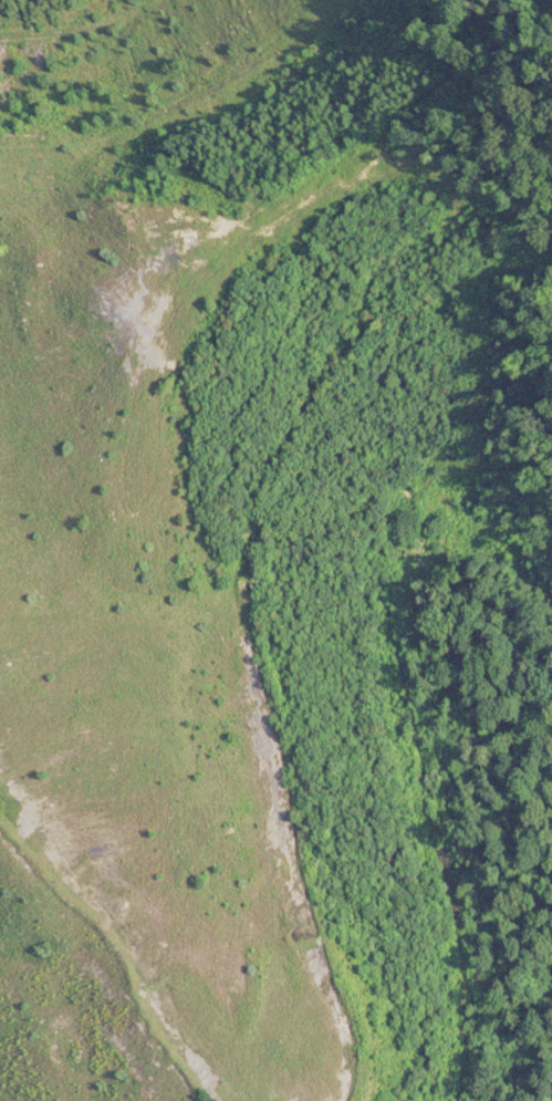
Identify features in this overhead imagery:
quarry: (257, 557)

